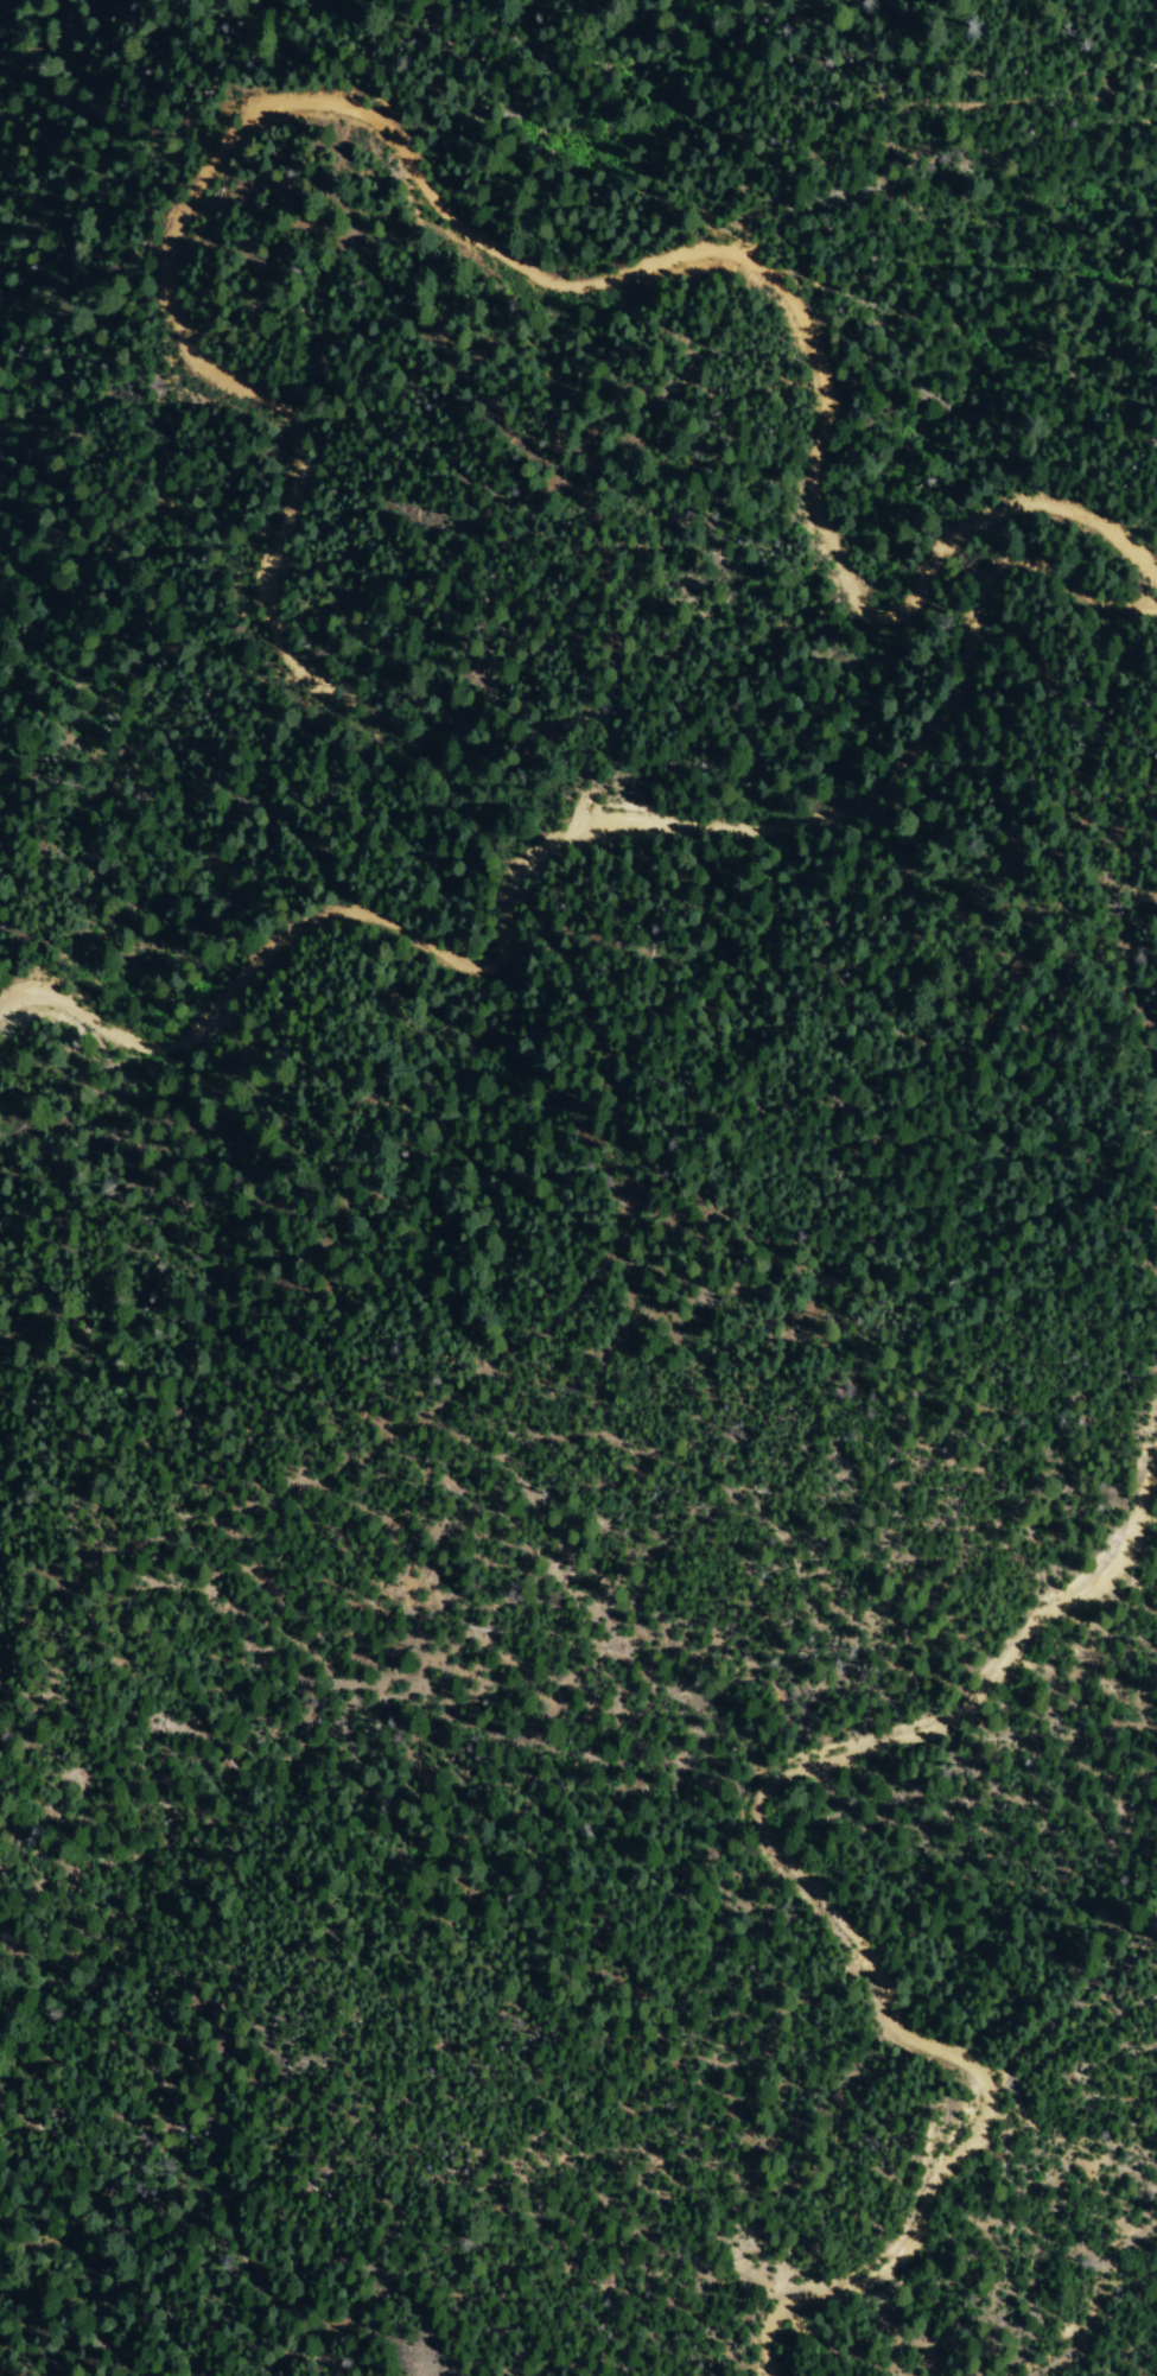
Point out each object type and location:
road: (254, 1017)
road: (545, 1066)
road: (1088, 2298)

